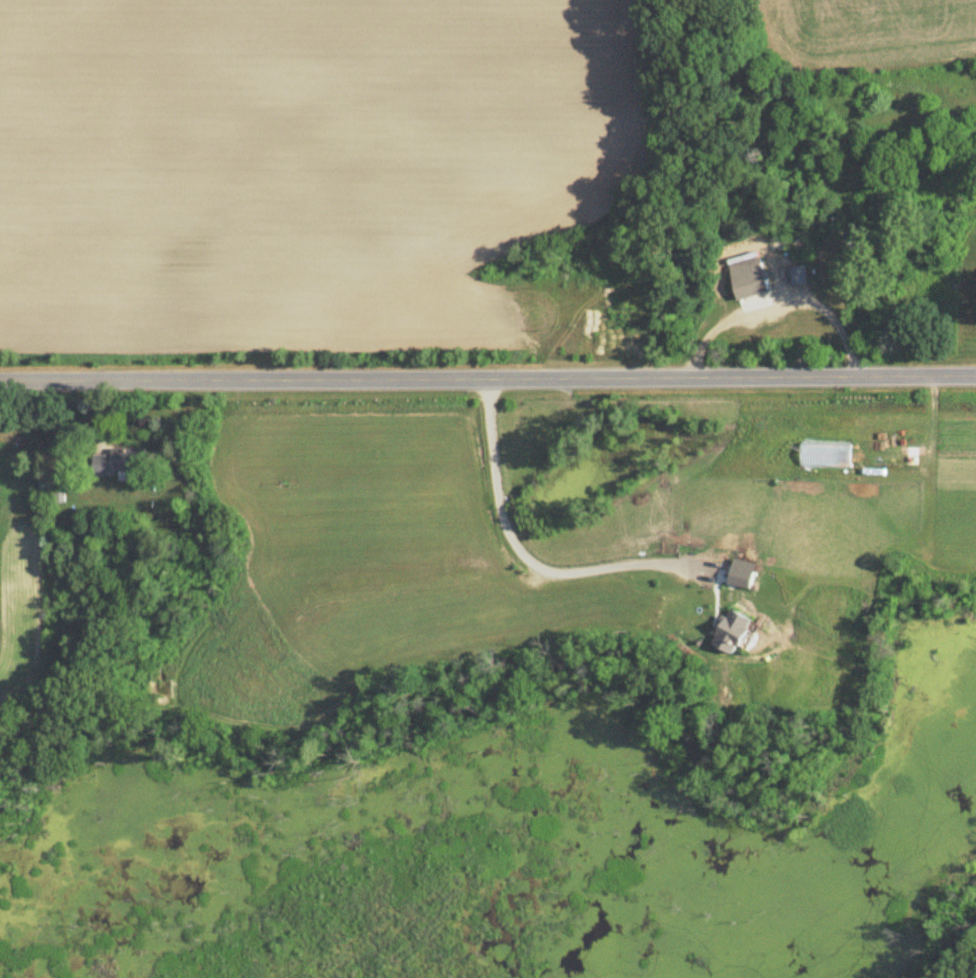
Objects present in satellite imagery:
building: (778, 244)
building: (750, 279)
road: (488, 378)
building: (121, 463)
road: (521, 554)

